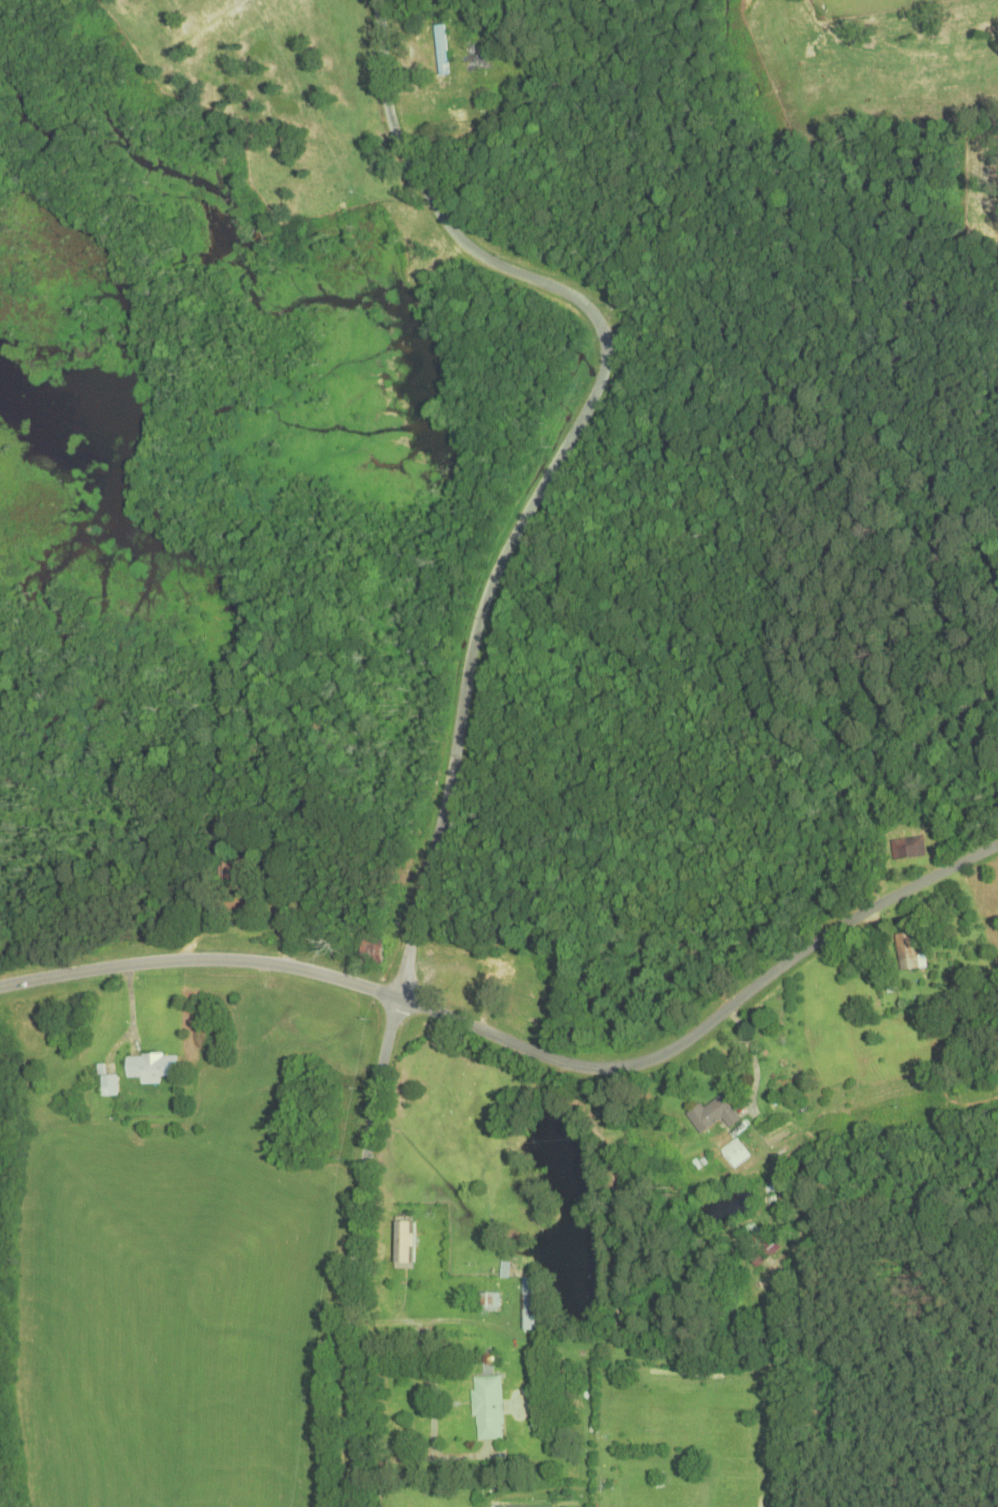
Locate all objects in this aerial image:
building: (434, 50)
river: (277, 313)
river: (116, 447)
road: (464, 691)
building: (908, 848)
building: (229, 872)
building: (909, 952)
building: (501, 978)
road: (524, 1047)
building: (150, 1068)
building: (713, 1114)
building: (735, 1153)
building: (403, 1245)
building: (489, 1301)
building: (528, 1305)
building: (487, 1409)
road: (324, 1429)

